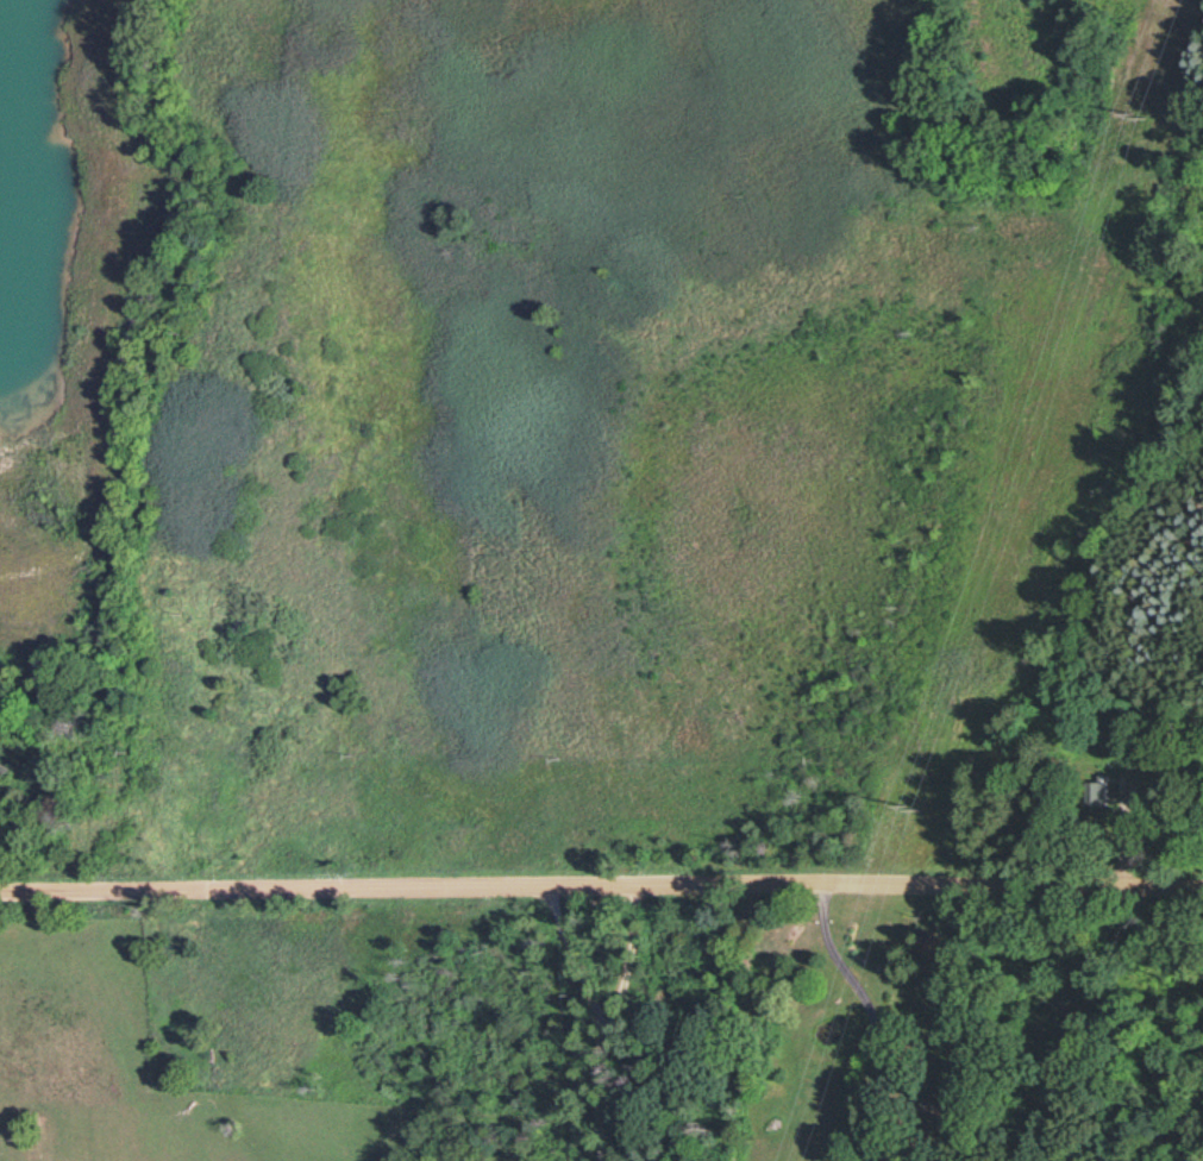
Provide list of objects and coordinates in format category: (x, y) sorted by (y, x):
power tower: (1135, 112)
building: (1098, 791)
power tower: (910, 803)
road: (601, 887)
road: (627, 959)
road: (600, 1018)
road: (871, 1024)

